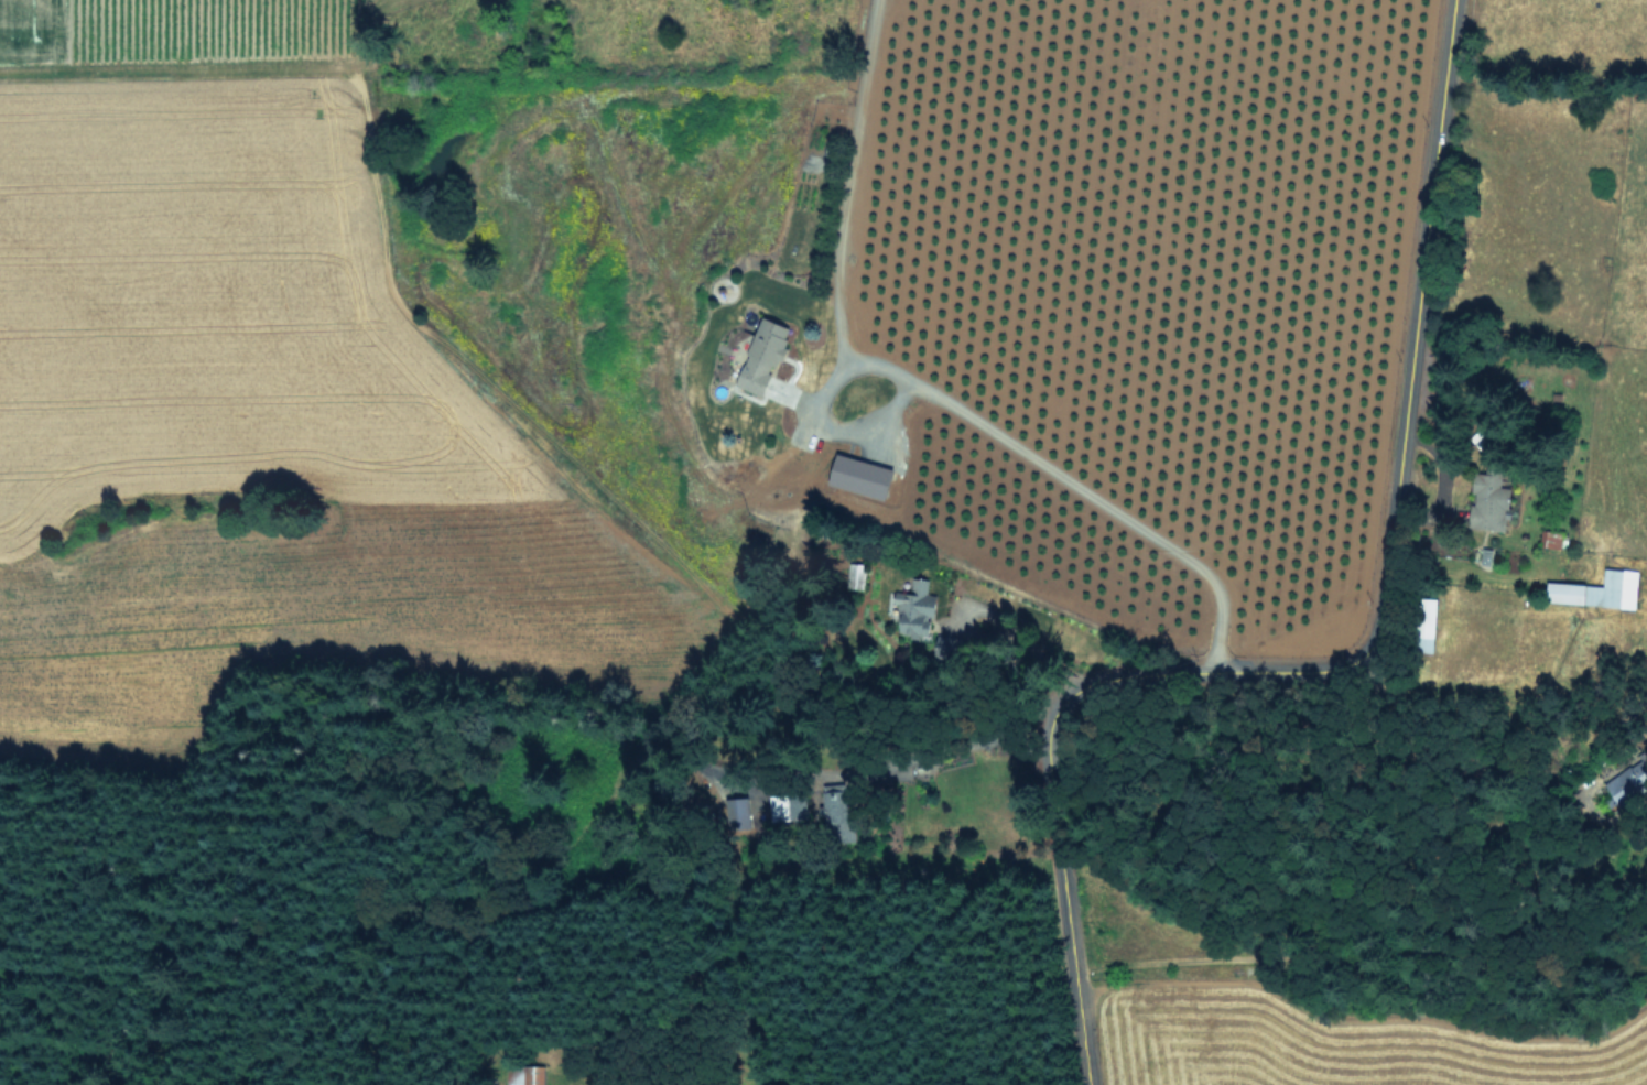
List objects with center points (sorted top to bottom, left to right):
crop: (1106, 297)
building: (758, 355)
crop: (1540, 356)
road: (914, 384)
crop: (261, 386)
road: (842, 430)
building: (855, 476)
building: (1486, 500)
building: (1612, 589)
building: (1561, 593)
building: (912, 608)
road: (1027, 638)
building: (1422, 642)
road: (1352, 663)
road: (963, 736)
building: (1623, 784)
building: (790, 805)
crop: (1314, 1019)

